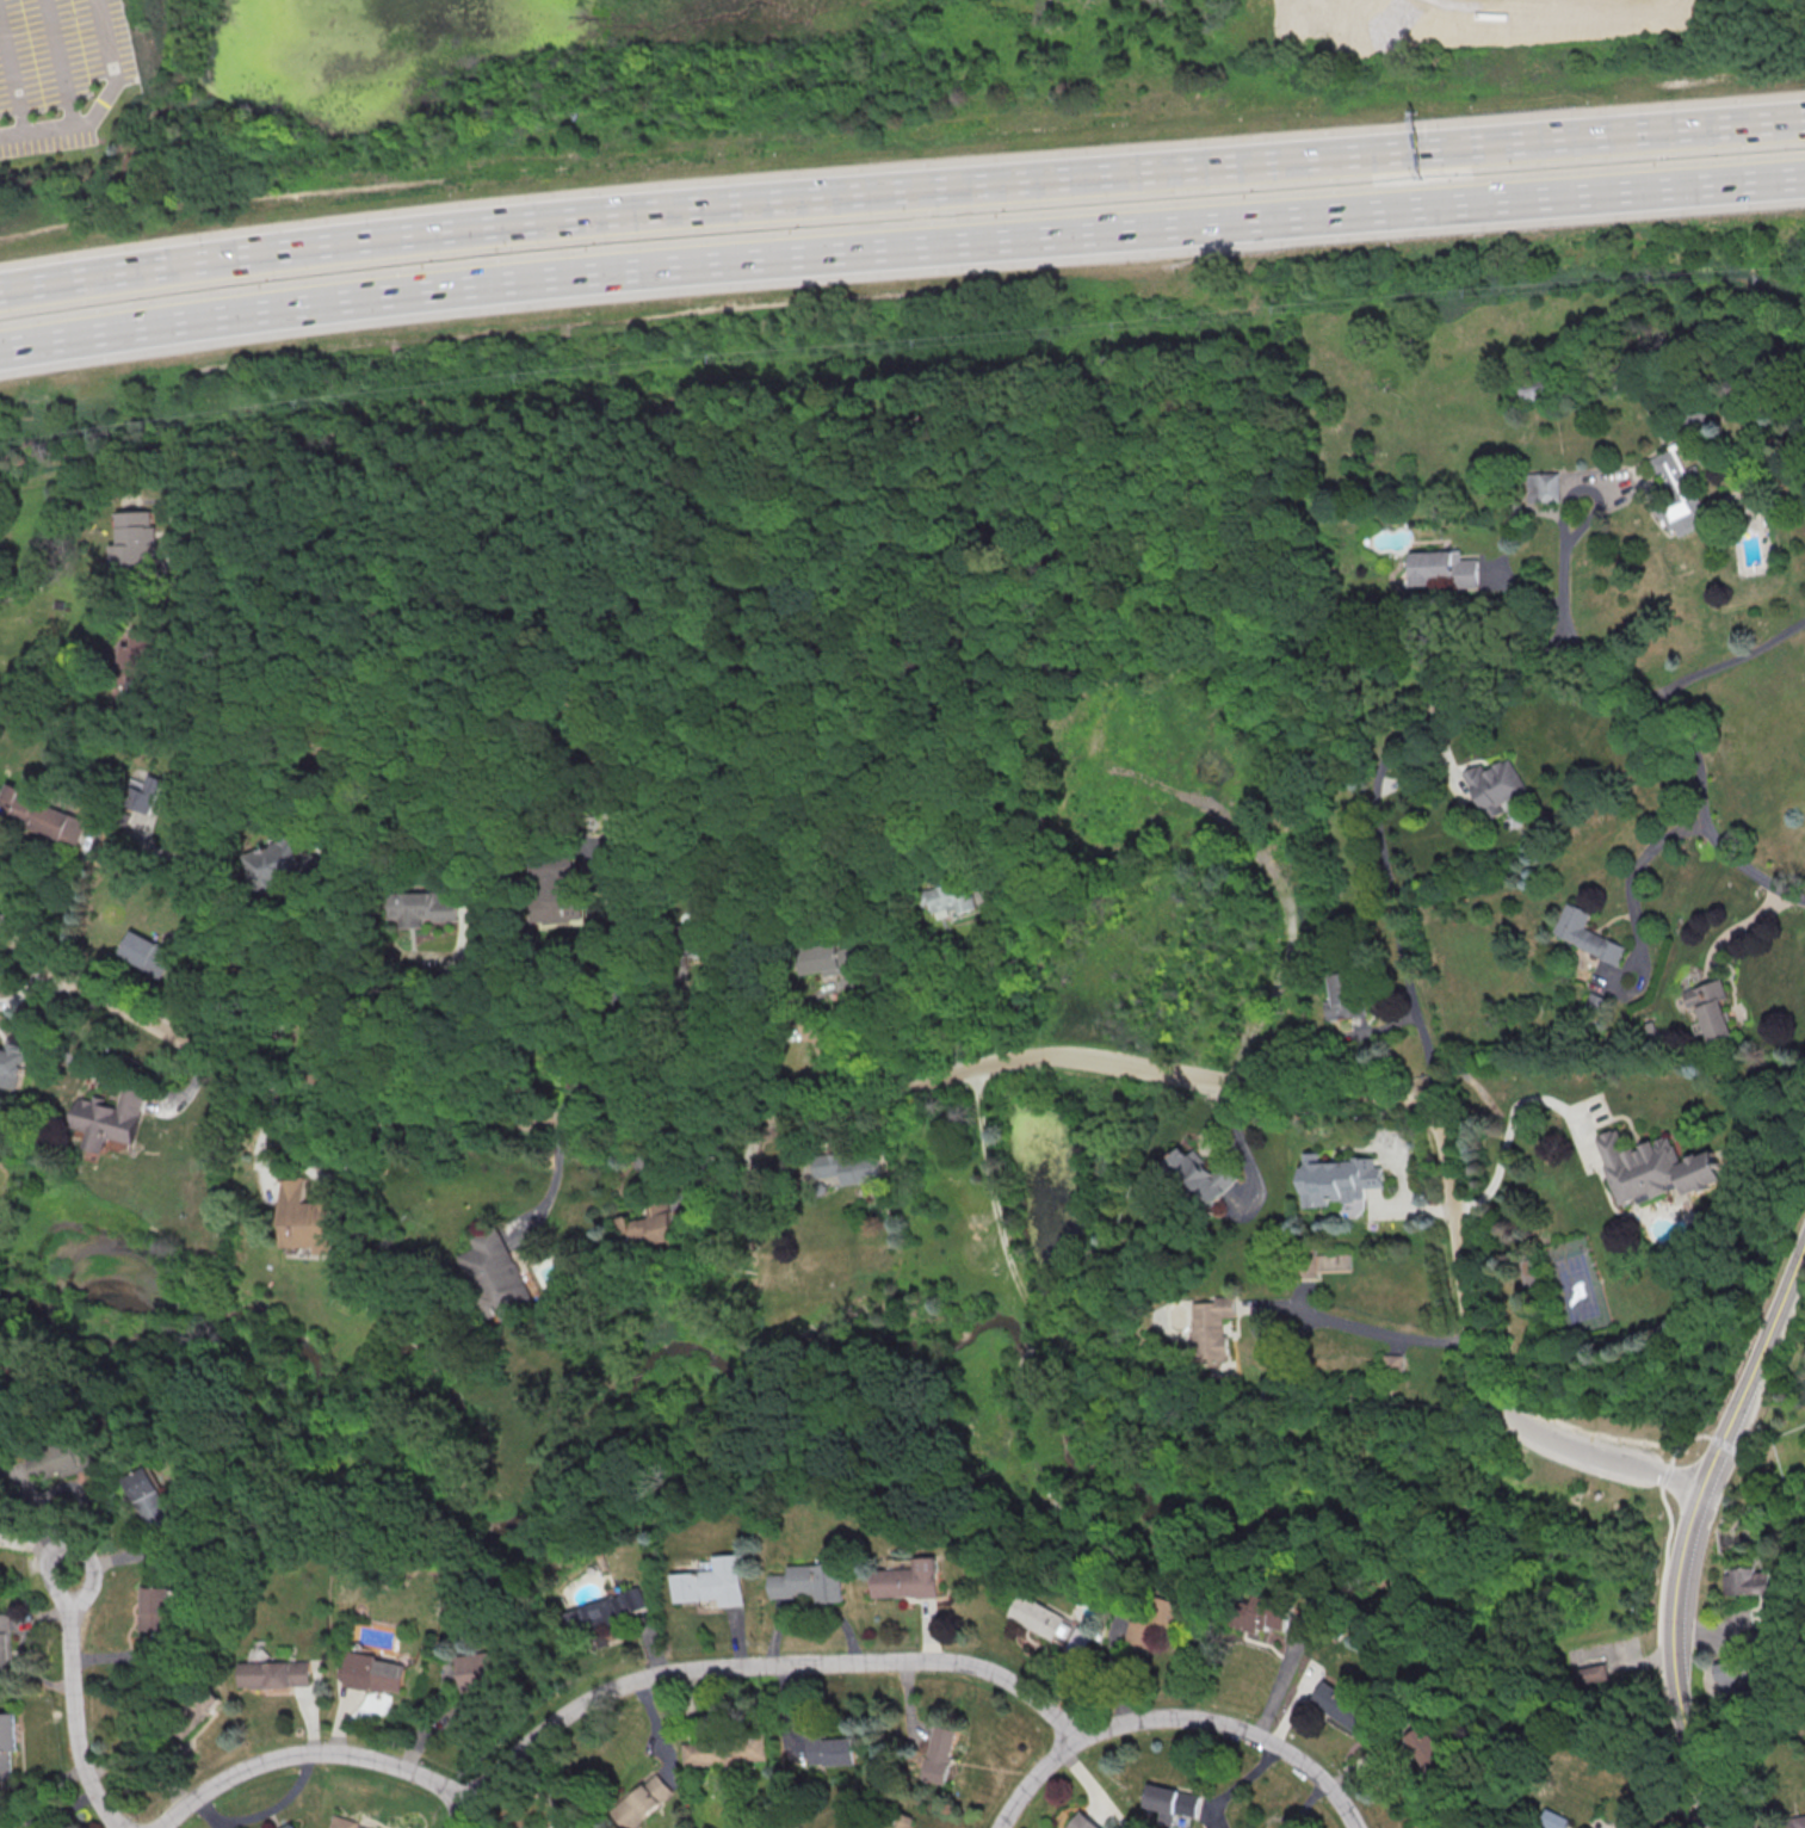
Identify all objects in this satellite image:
road: (58, 63)
road: (14, 78)
road: (99, 103)
road: (901, 191)
road: (901, 249)
road: (839, 433)
road: (506, 467)
building: (1545, 487)
building: (1680, 489)
building: (136, 541)
building: (1442, 569)
road: (1565, 569)
road: (1732, 662)
road: (1695, 766)
building: (1495, 782)
road: (199, 791)
building: (42, 814)
road: (1378, 830)
building: (273, 860)
road: (1636, 869)
road: (1278, 884)
road: (54, 885)
building: (554, 896)
building: (951, 898)
building: (1585, 933)
building: (146, 953)
building: (834, 956)
road: (310, 970)
road: (619, 978)
road: (966, 982)
building: (1342, 996)
building: (1710, 1008)
road: (853, 1023)
road: (440, 1024)
road: (666, 1051)
building: (11, 1063)
road: (963, 1070)
building: (105, 1119)
road: (1504, 1144)
building: (847, 1166)
building: (1656, 1168)
building: (1203, 1174)
building: (1341, 1180)
road: (554, 1182)
building: (303, 1218)
building: (650, 1227)
building: (496, 1277)
building: (1216, 1327)
road: (1367, 1329)
building: (1393, 1361)
road: (1770, 1365)
road: (1725, 1444)
building: (75, 1459)
building: (148, 1494)
road: (1690, 1532)
building: (909, 1579)
building: (718, 1582)
building: (811, 1582)
building: (155, 1608)
building: (611, 1611)
building: (1038, 1614)
building: (1269, 1617)
road: (1662, 1618)
building: (1144, 1631)
building: (1081, 1641)
building: (482, 1670)
building: (376, 1673)
building: (1594, 1673)
building: (274, 1674)
building: (1733, 1674)
road: (601, 1696)
road: (76, 1705)
building: (1342, 1705)
road: (1177, 1717)
building: (8, 1731)
building: (830, 1748)
building: (729, 1752)
building: (942, 1754)
building: (643, 1801)
building: (1172, 1802)
road: (468, 1812)
building: (1557, 1820)
building: (1084, 1822)
building: (1800, 1822)
building: (347, 1824)
building: (293, 1826)
building: (884, 1827)

